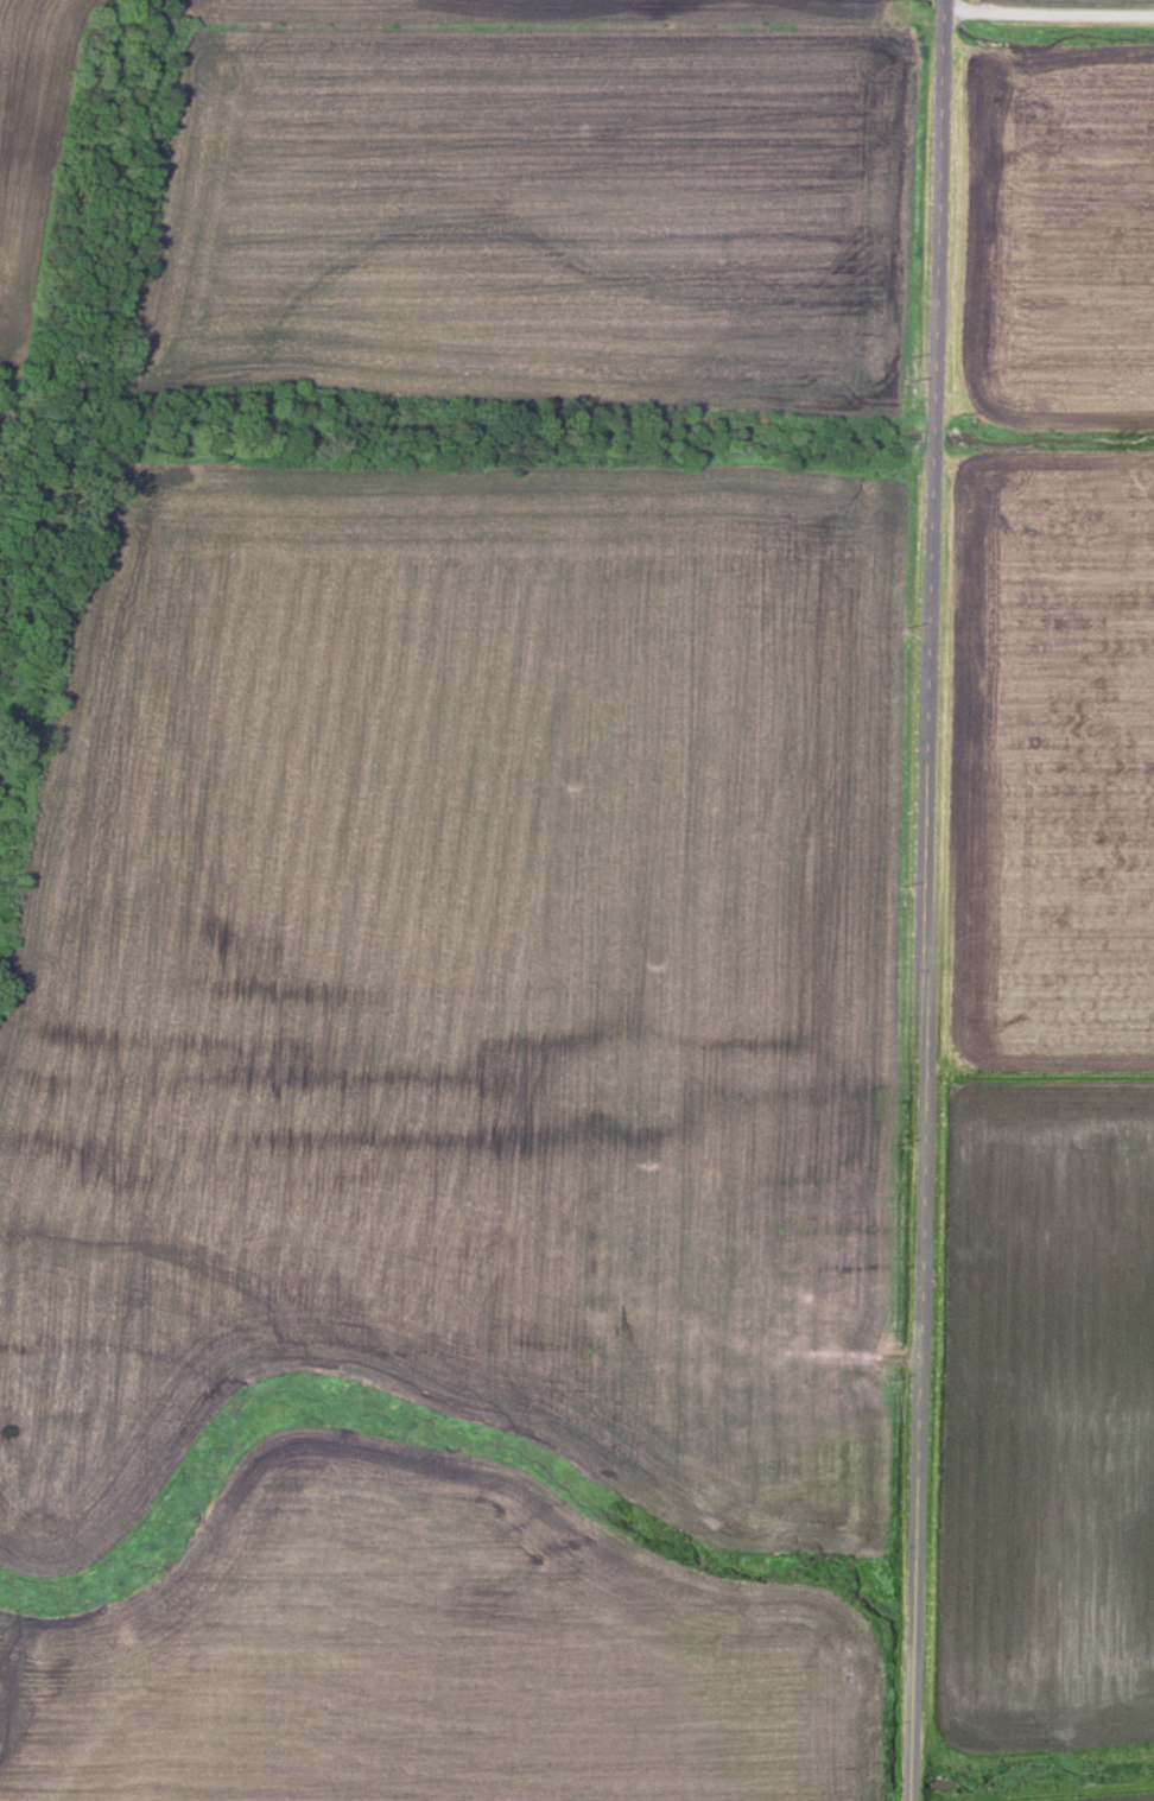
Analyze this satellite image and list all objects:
road: (1050, 12)
road: (926, 900)

